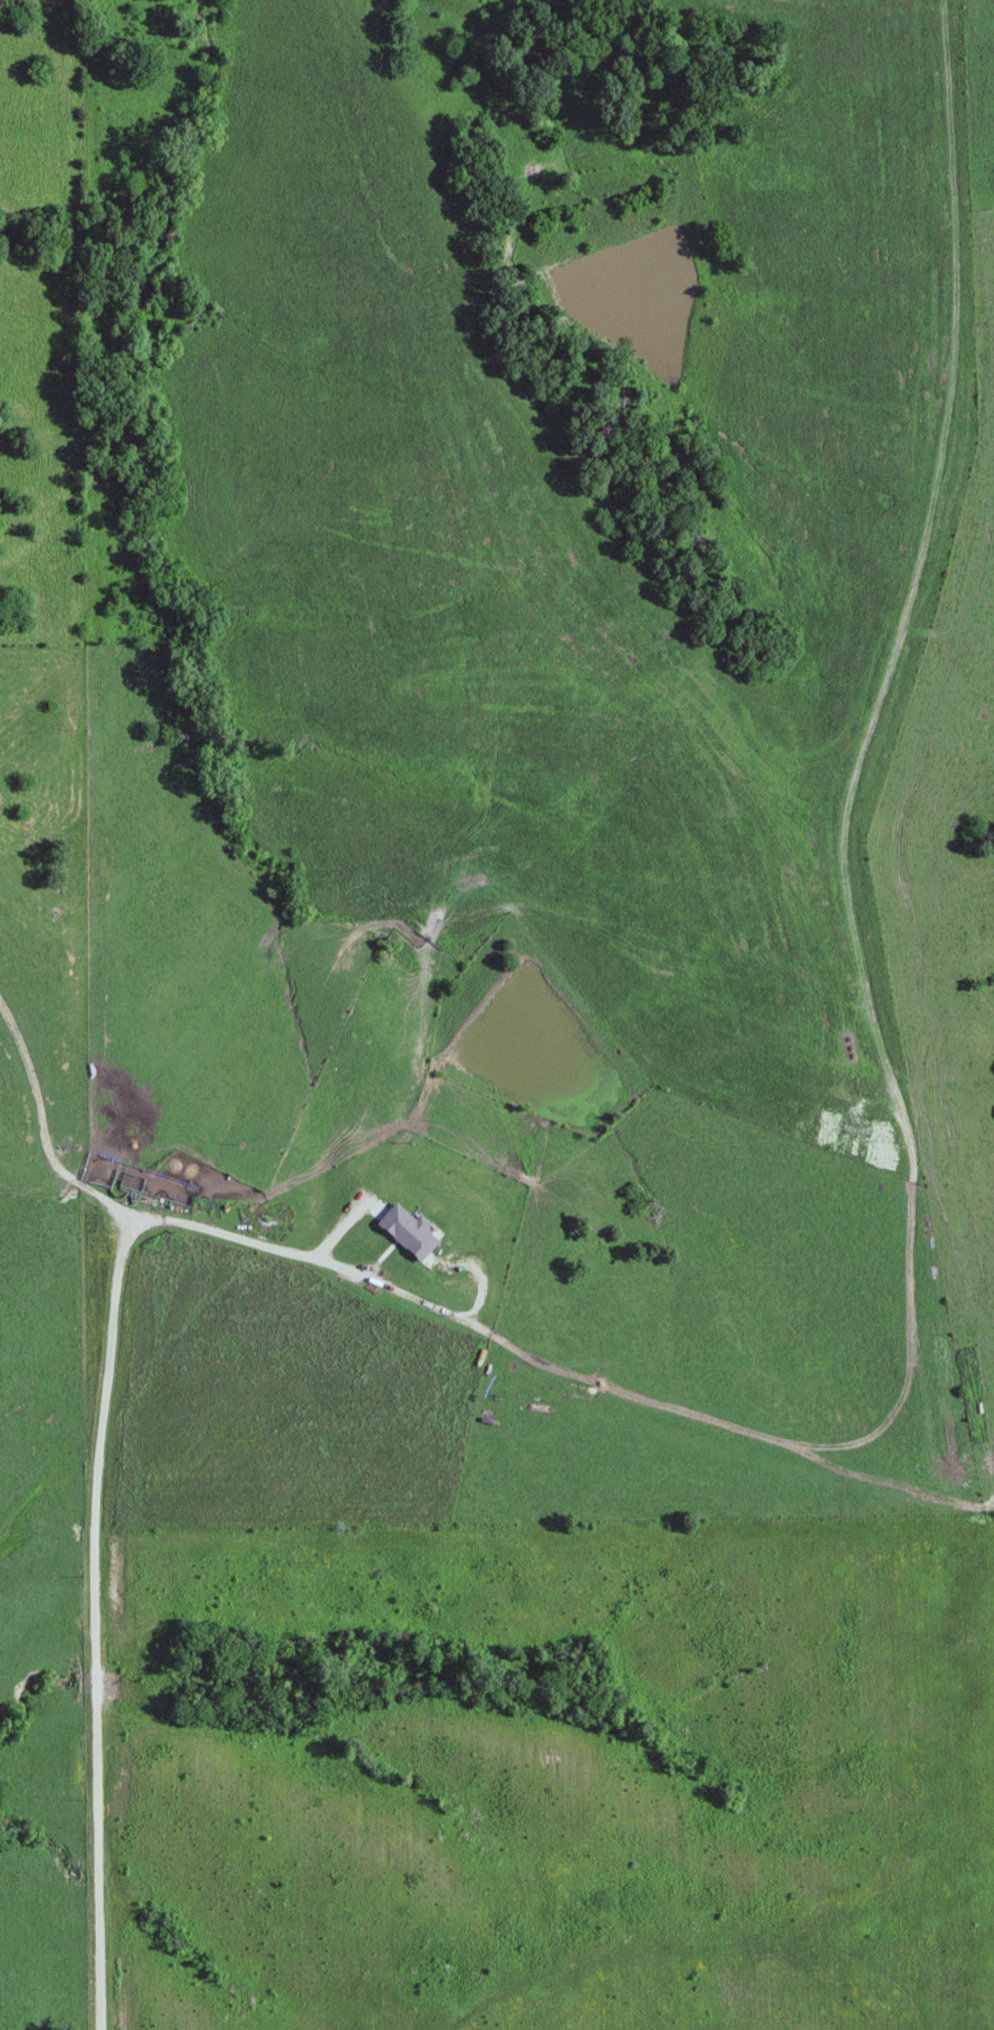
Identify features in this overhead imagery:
road: (91, 1534)

